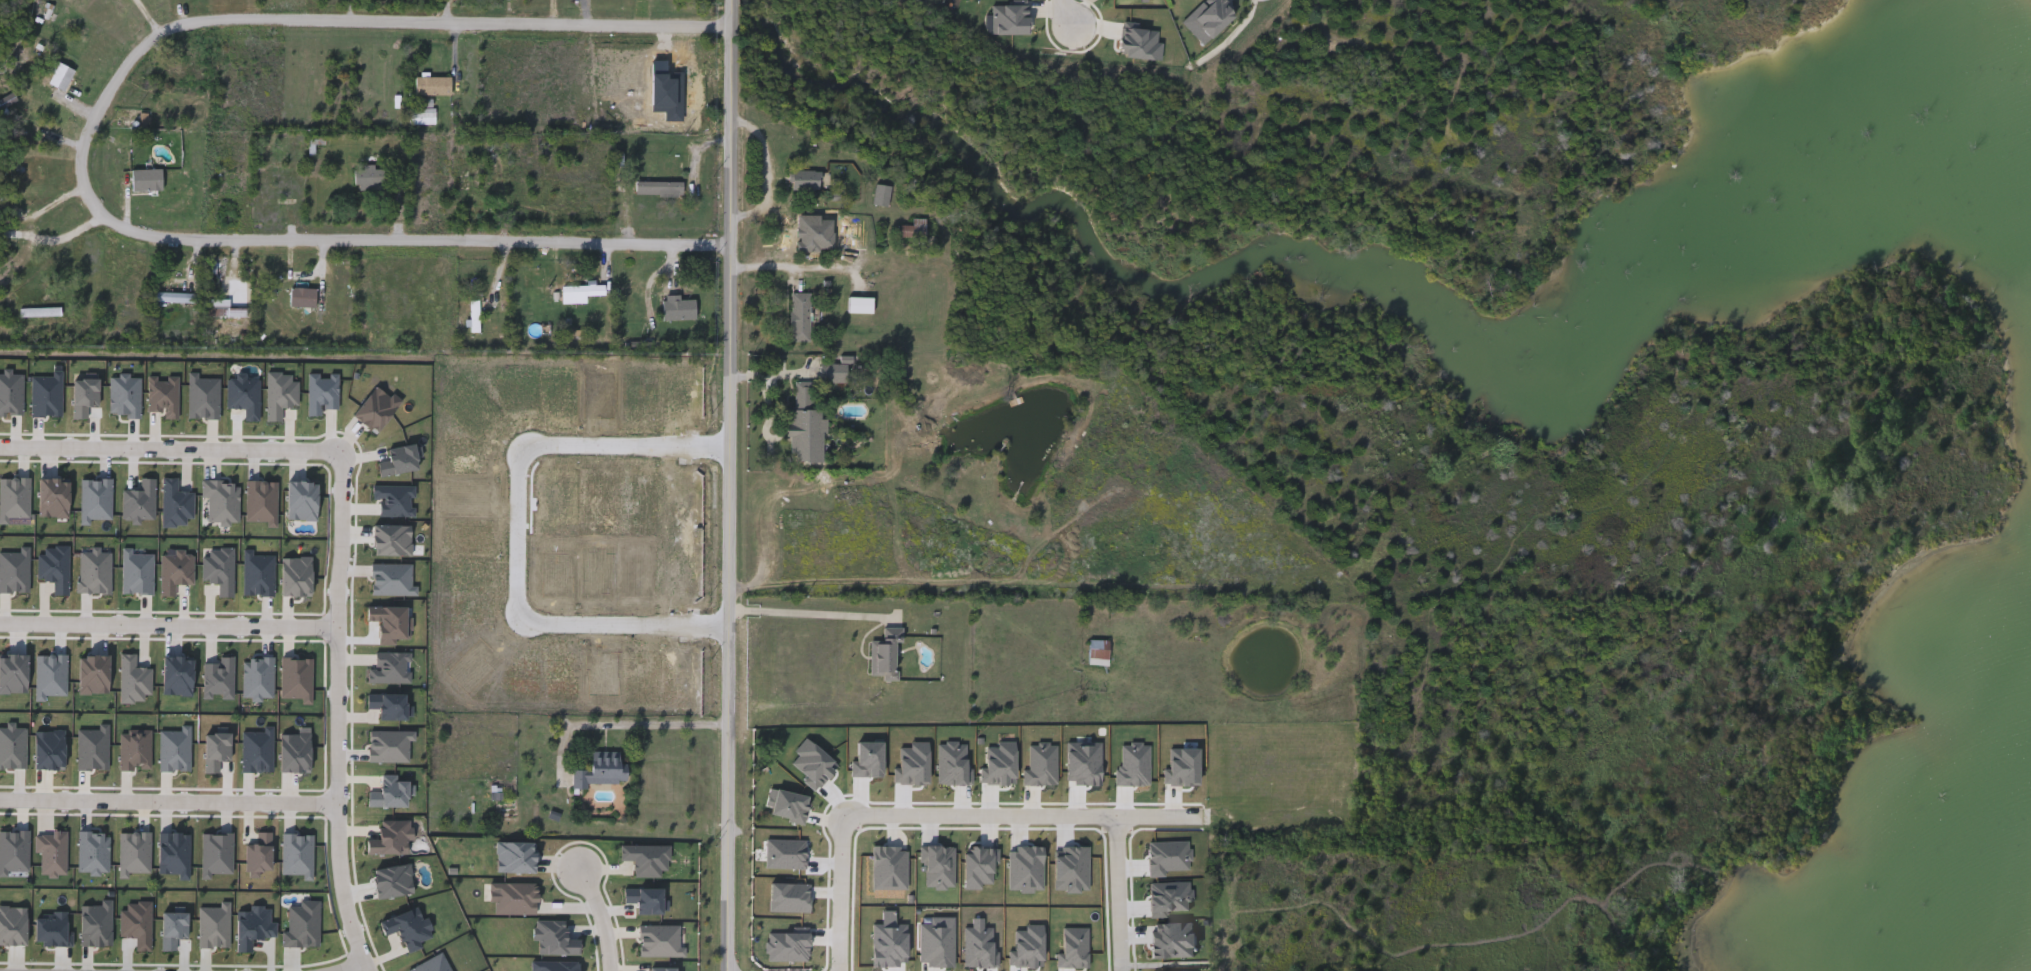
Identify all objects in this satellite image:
road: (1065, 12)
building: (186, 71)
building: (61, 79)
building: (434, 85)
building: (424, 115)
road: (88, 150)
building: (370, 174)
building: (147, 179)
building: (807, 179)
building: (660, 187)
building: (882, 194)
building: (910, 230)
road: (32, 236)
building: (811, 236)
road: (807, 266)
building: (581, 291)
building: (175, 296)
building: (303, 296)
building: (229, 308)
building: (680, 309)
building: (40, 310)
building: (42, 313)
building: (477, 315)
building: (800, 315)
building: (833, 371)
building: (806, 421)
road: (169, 442)
road: (734, 485)
road: (522, 537)
road: (812, 613)
road: (169, 620)
building: (1099, 651)
road: (338, 713)
road: (652, 725)
building: (603, 771)
building: (821, 795)
road: (169, 798)
road: (938, 816)
road: (1120, 893)
road: (603, 912)
road: (348, 964)

